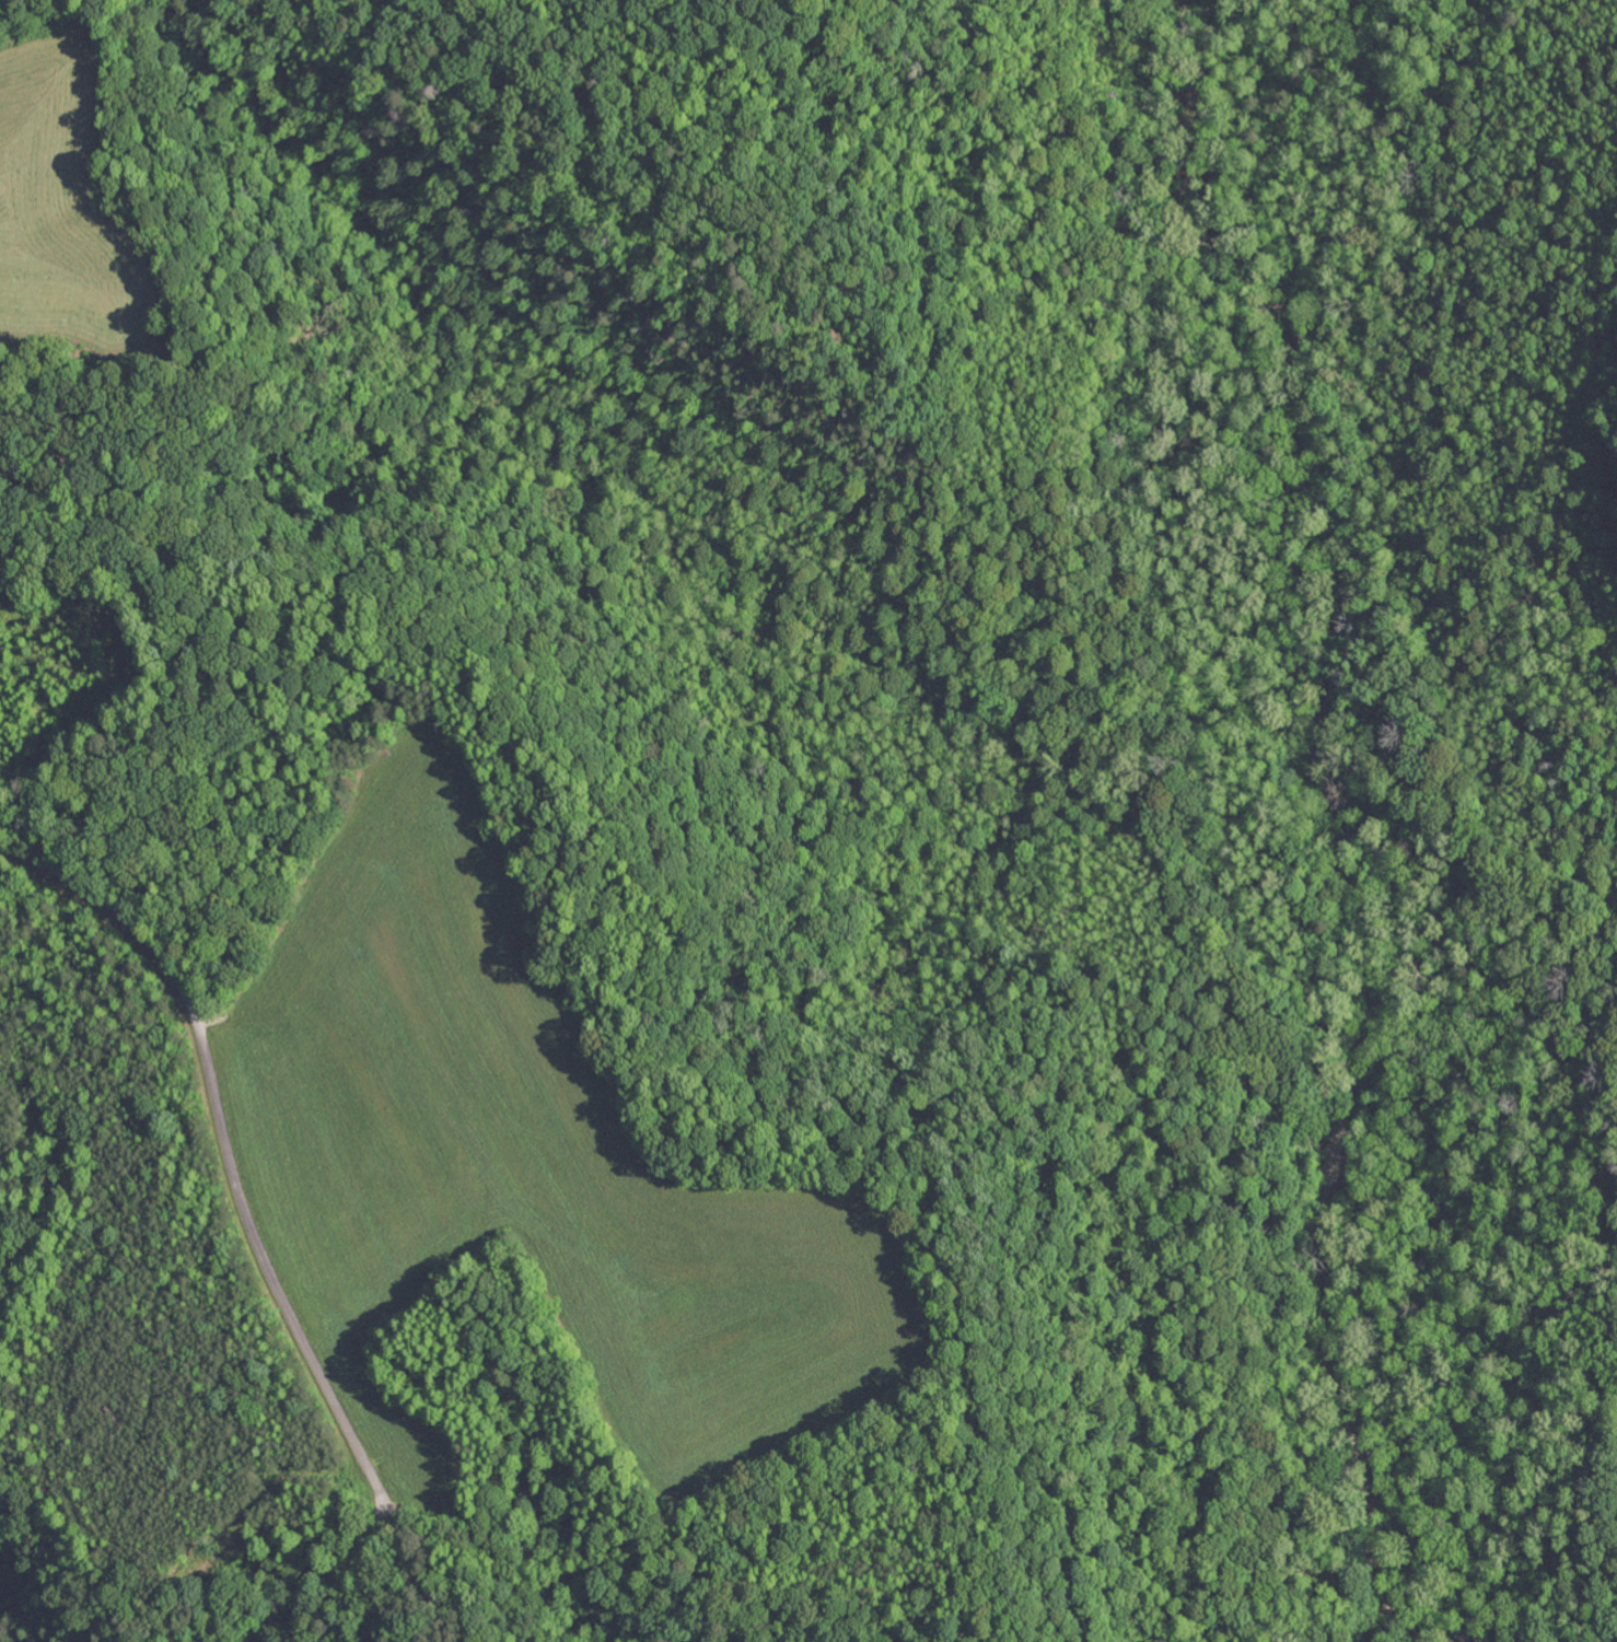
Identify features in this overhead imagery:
road: (244, 1209)

